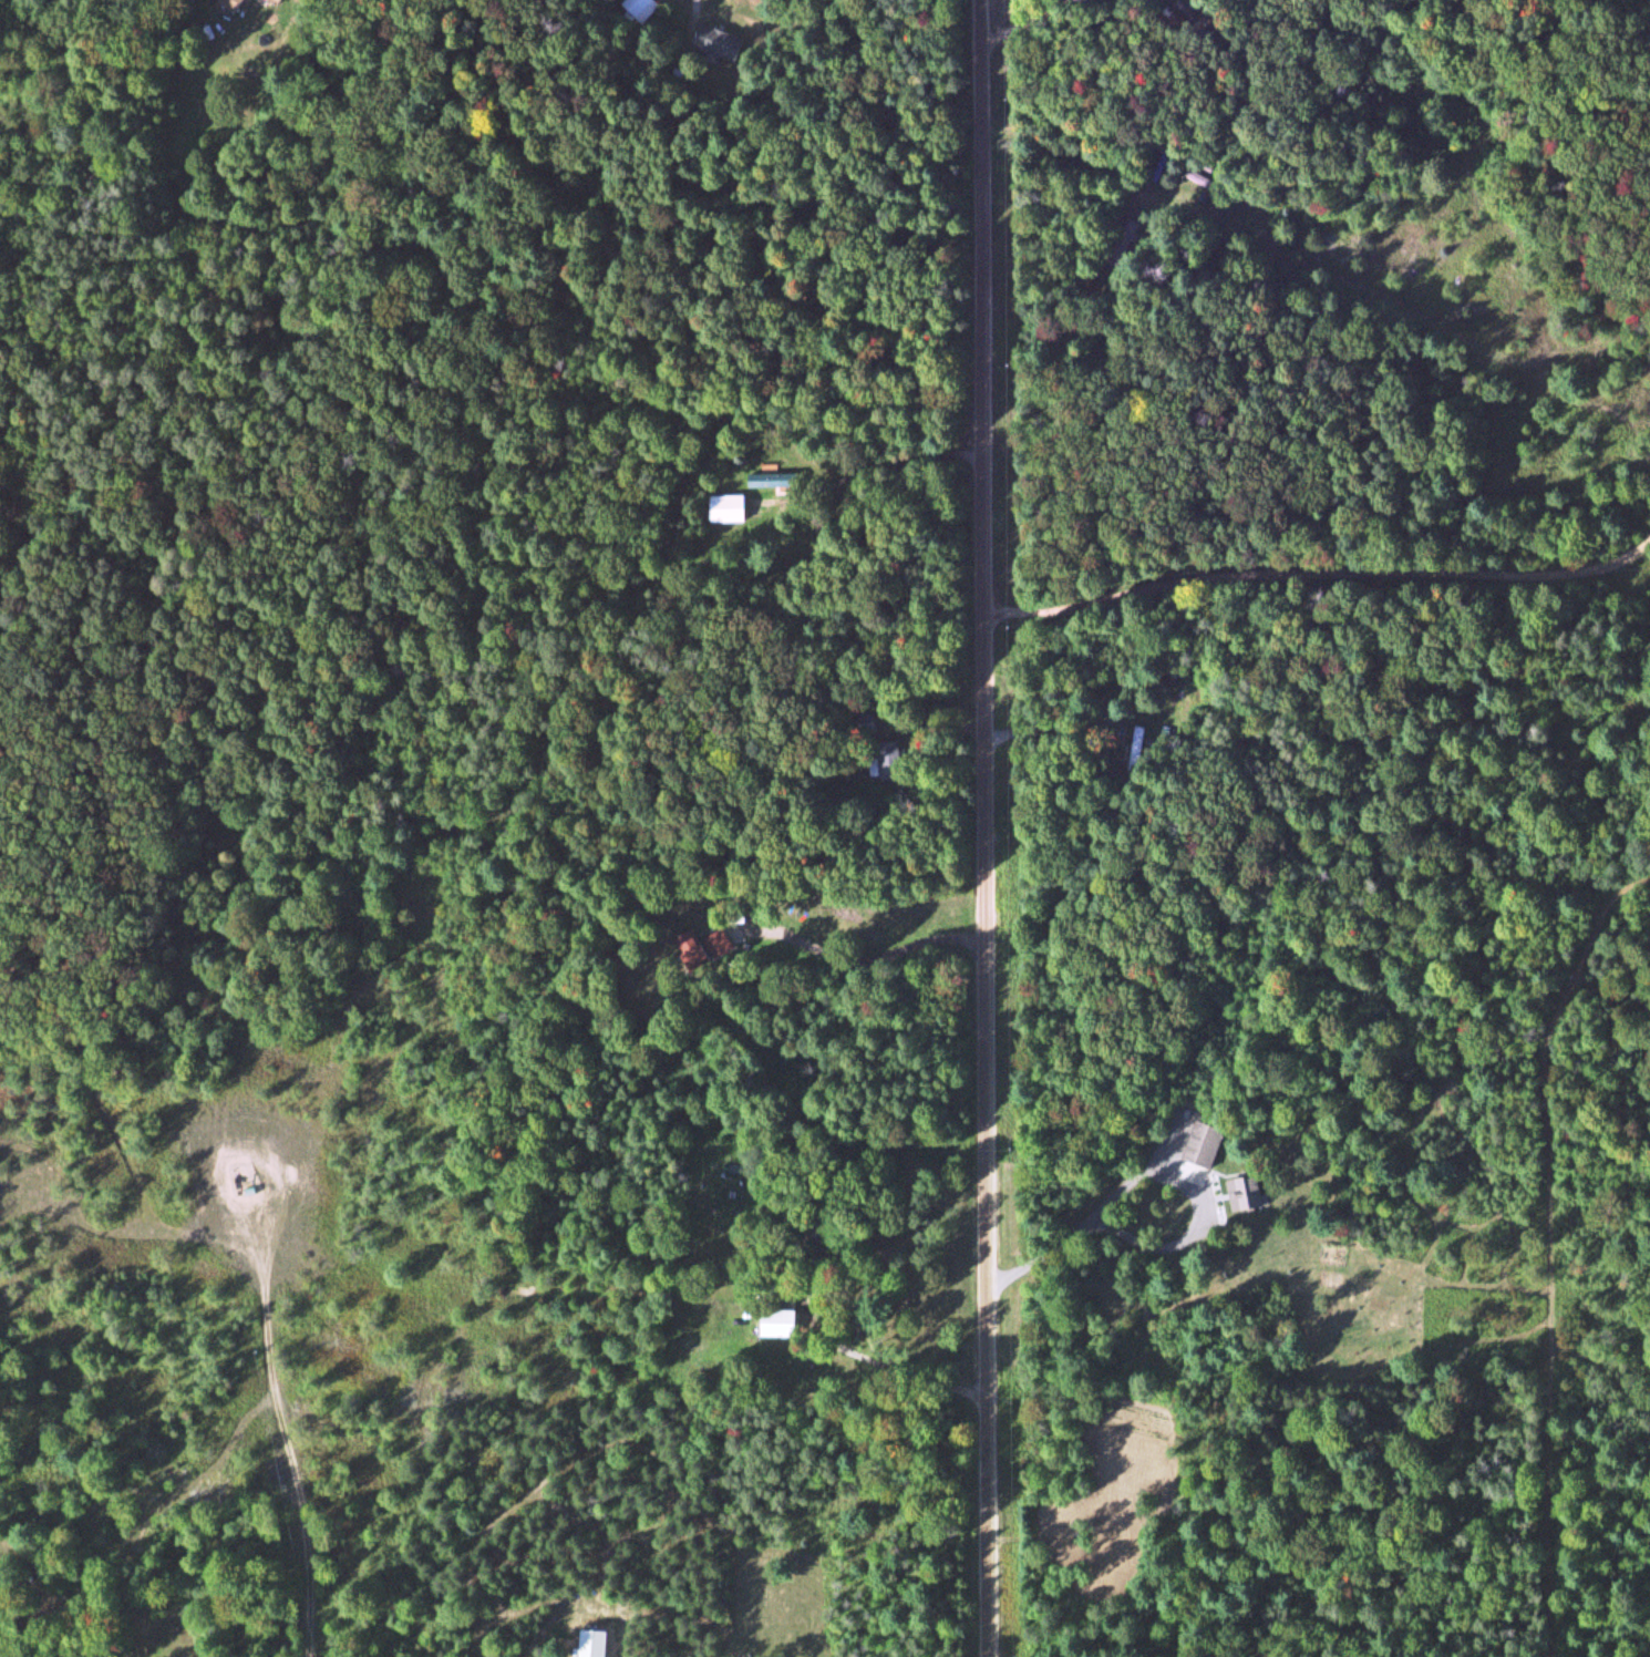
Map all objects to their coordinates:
building: (240, 4)
building: (640, 10)
building: (714, 42)
building: (720, 508)
road: (1319, 570)
building: (858, 725)
road: (988, 828)
building: (725, 945)
road: (858, 965)
building: (1198, 1145)
building: (1244, 1193)
building: (787, 1324)
road: (873, 1331)

